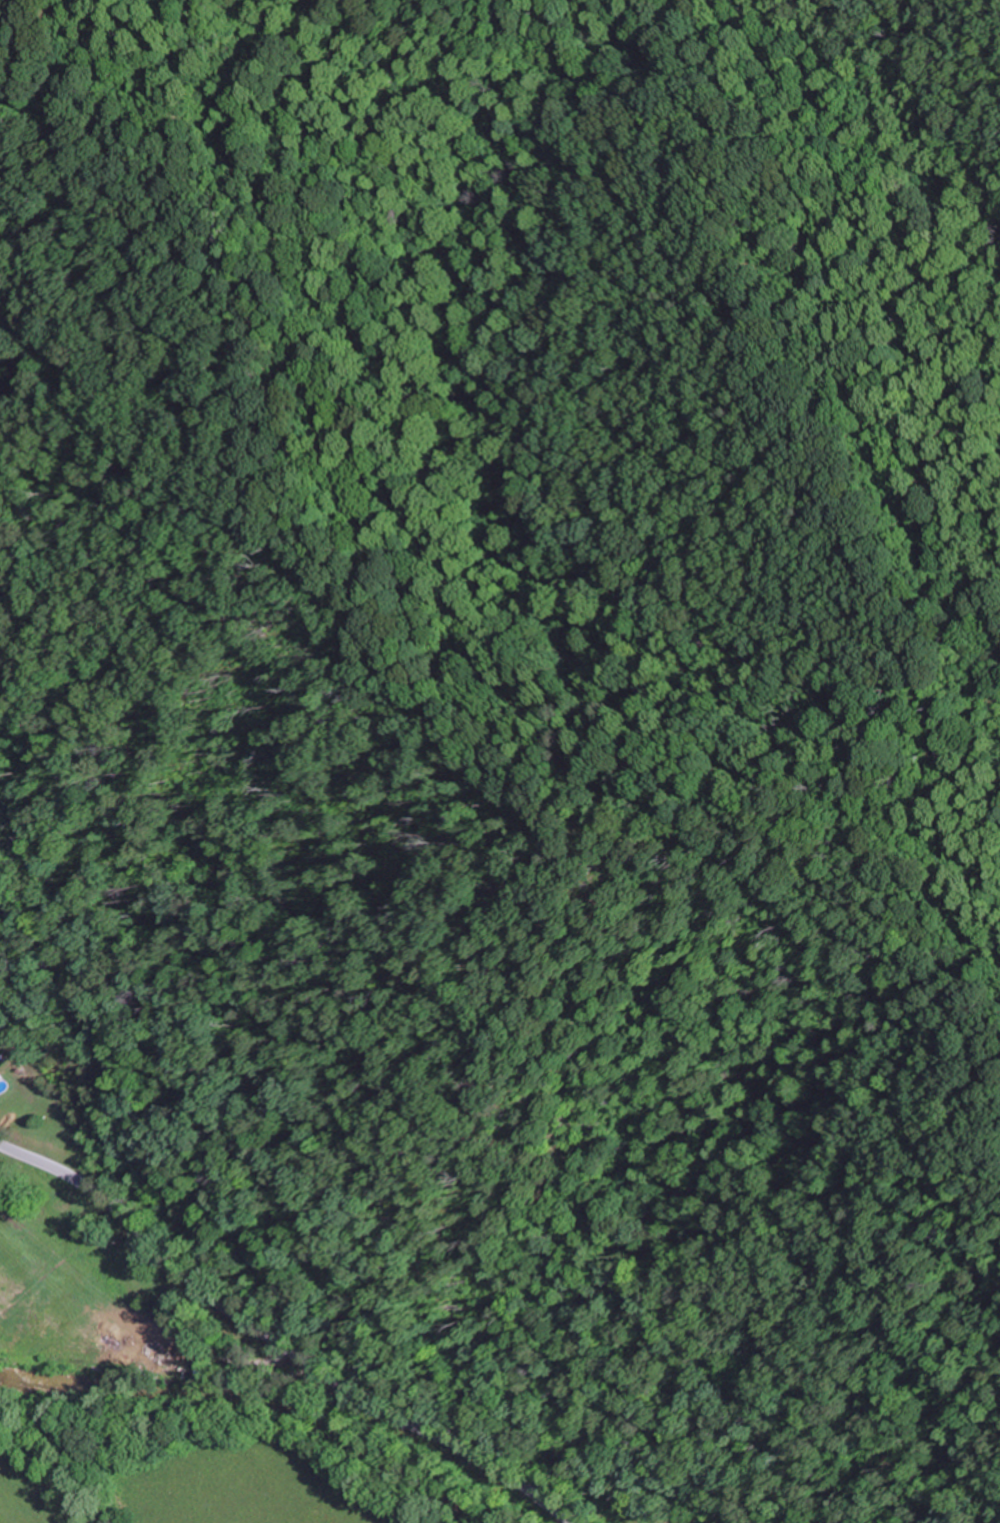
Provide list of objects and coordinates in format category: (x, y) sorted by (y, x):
building: (0, 1071)
road: (281, 1341)

